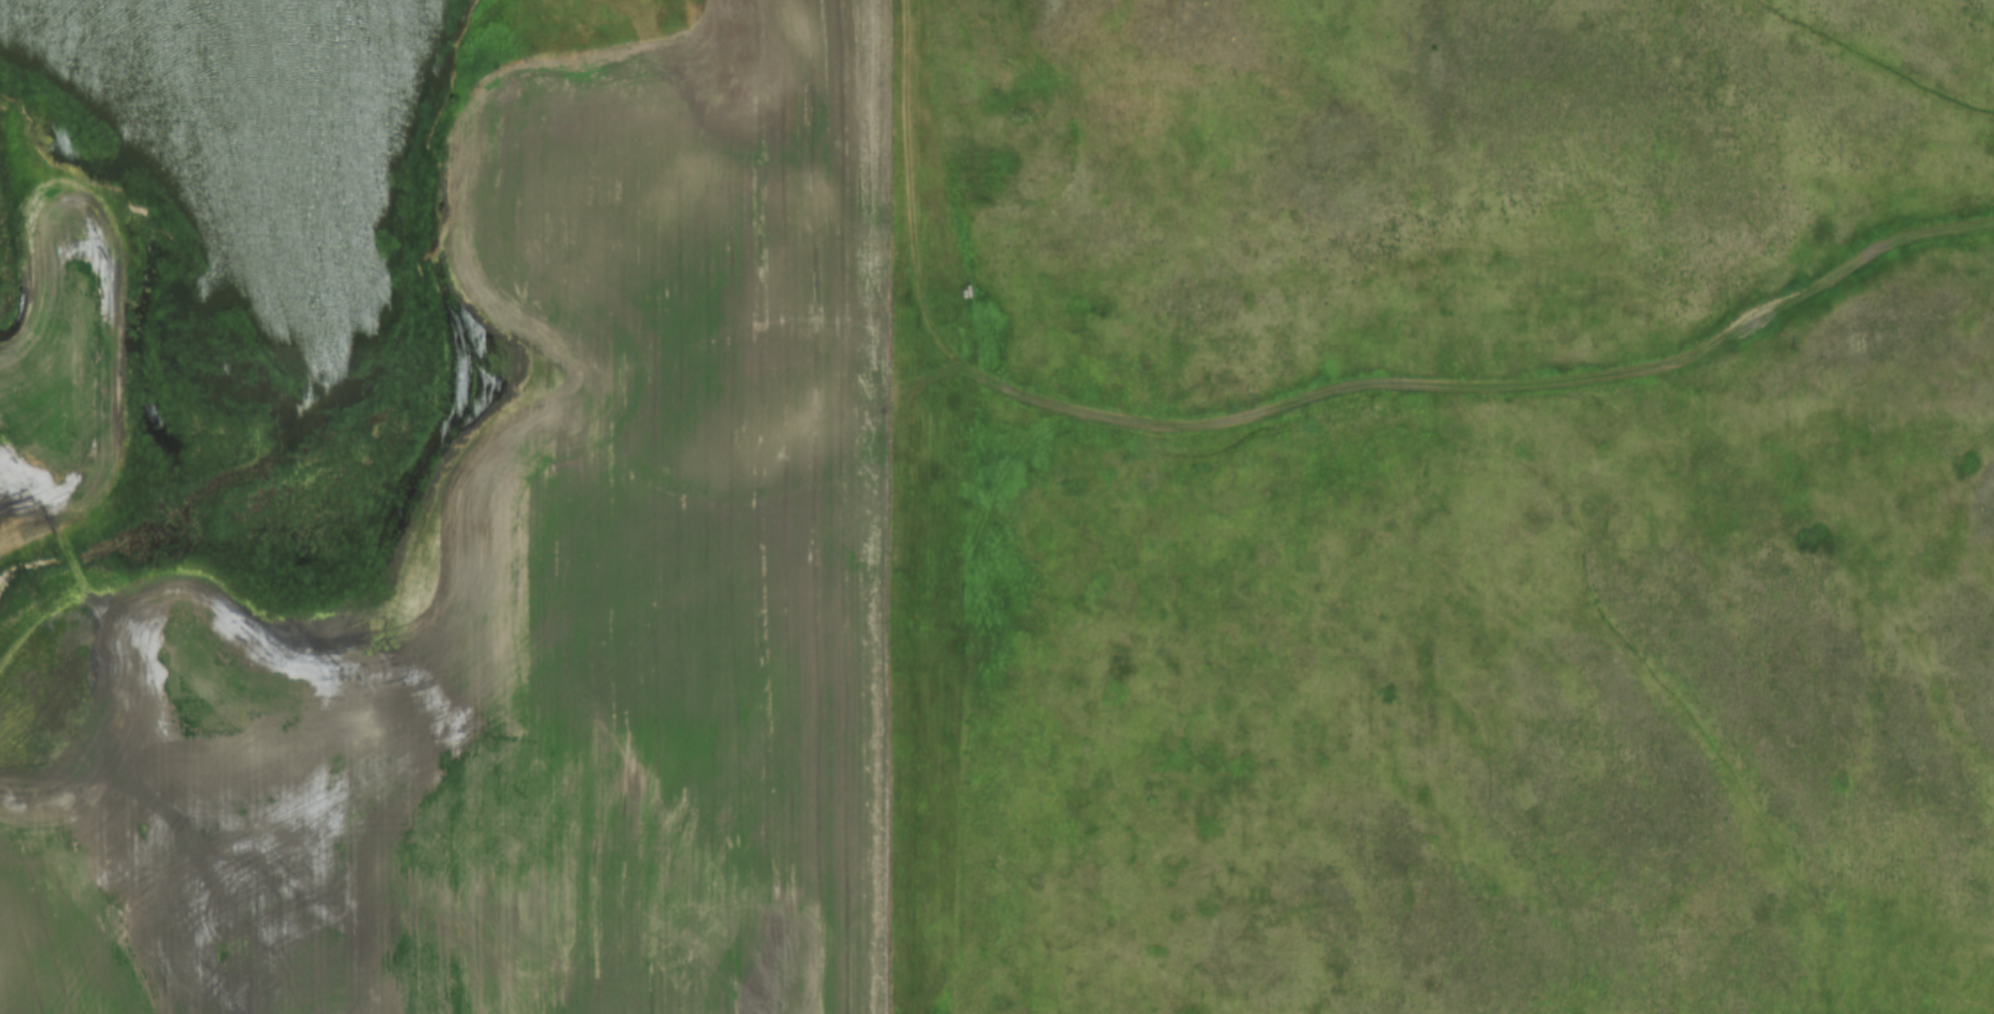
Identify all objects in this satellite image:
road: (346, 403)

